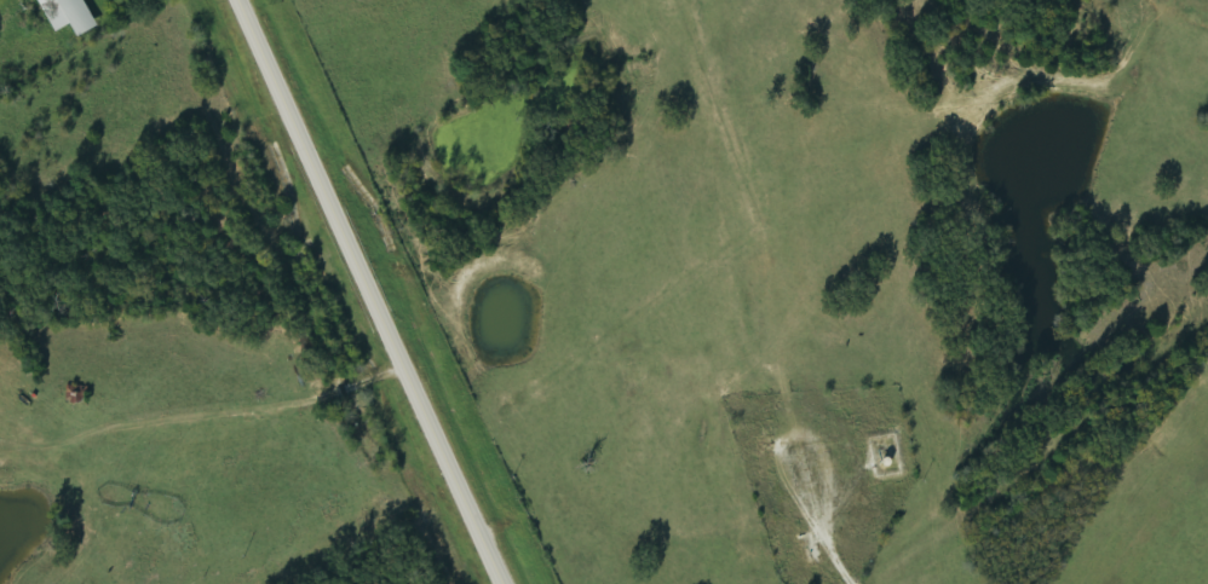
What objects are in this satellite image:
building: (74, 16)
road: (367, 293)

